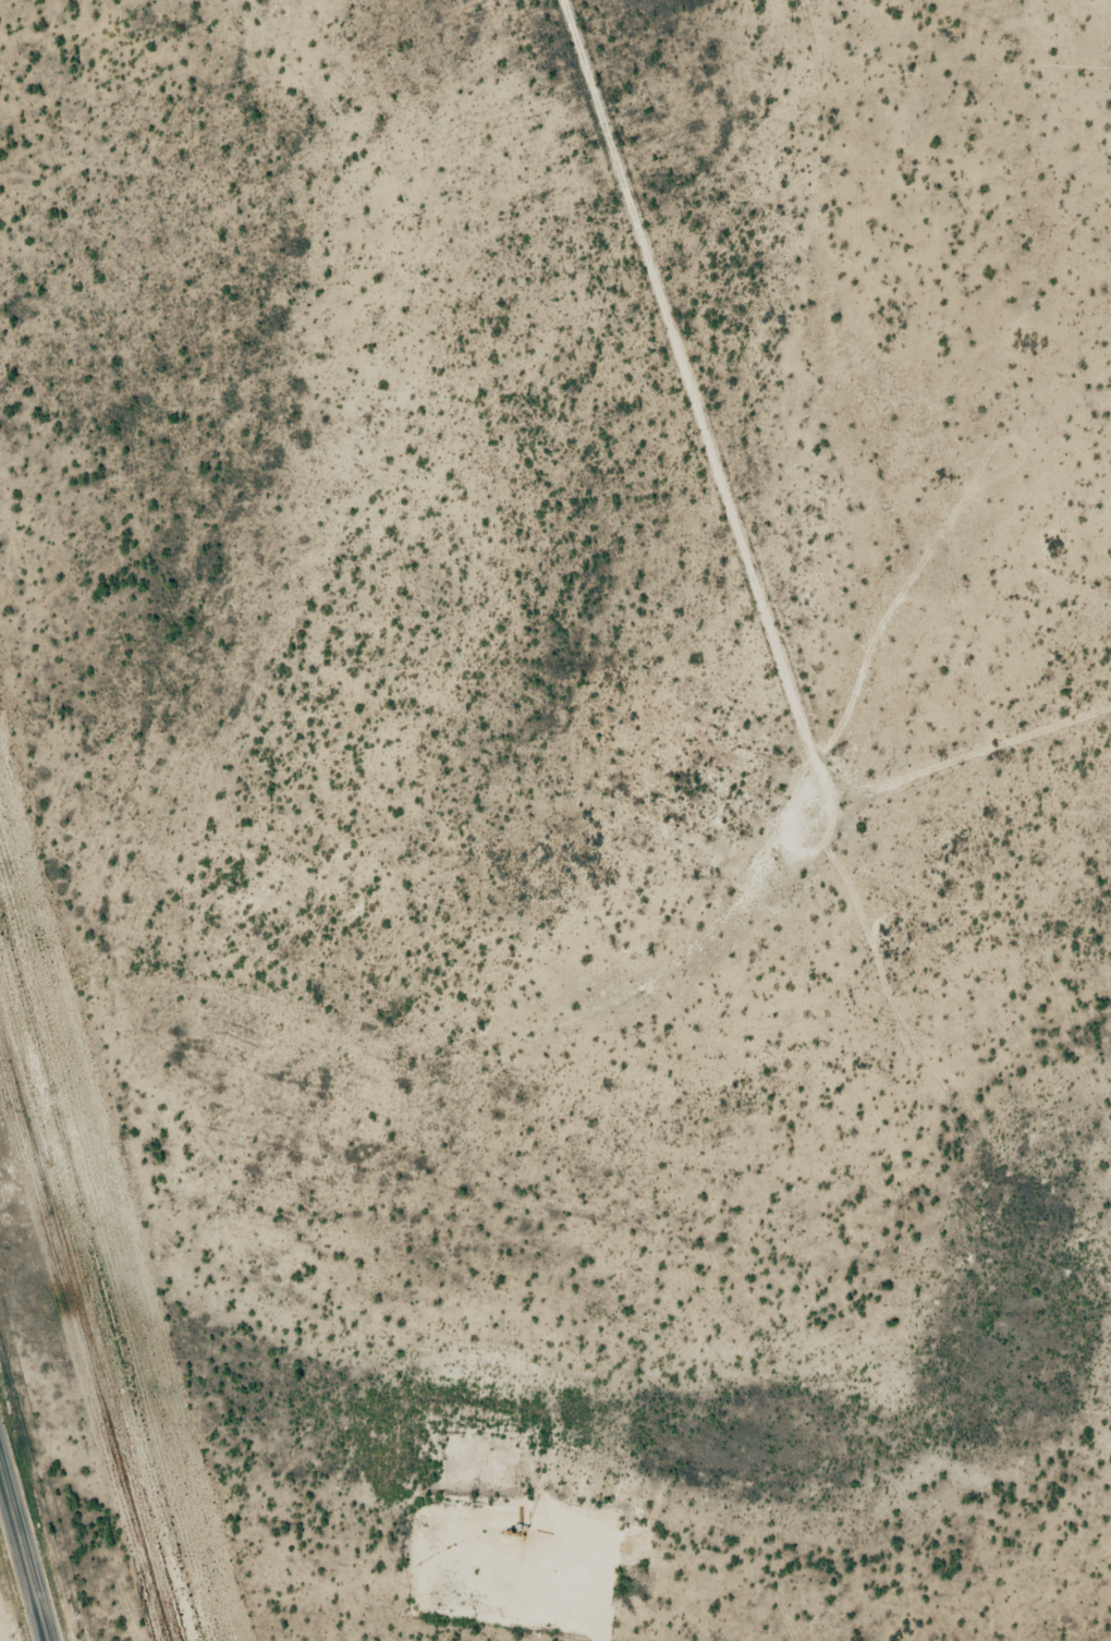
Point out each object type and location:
river: (621, 1466)
road: (24, 1548)

